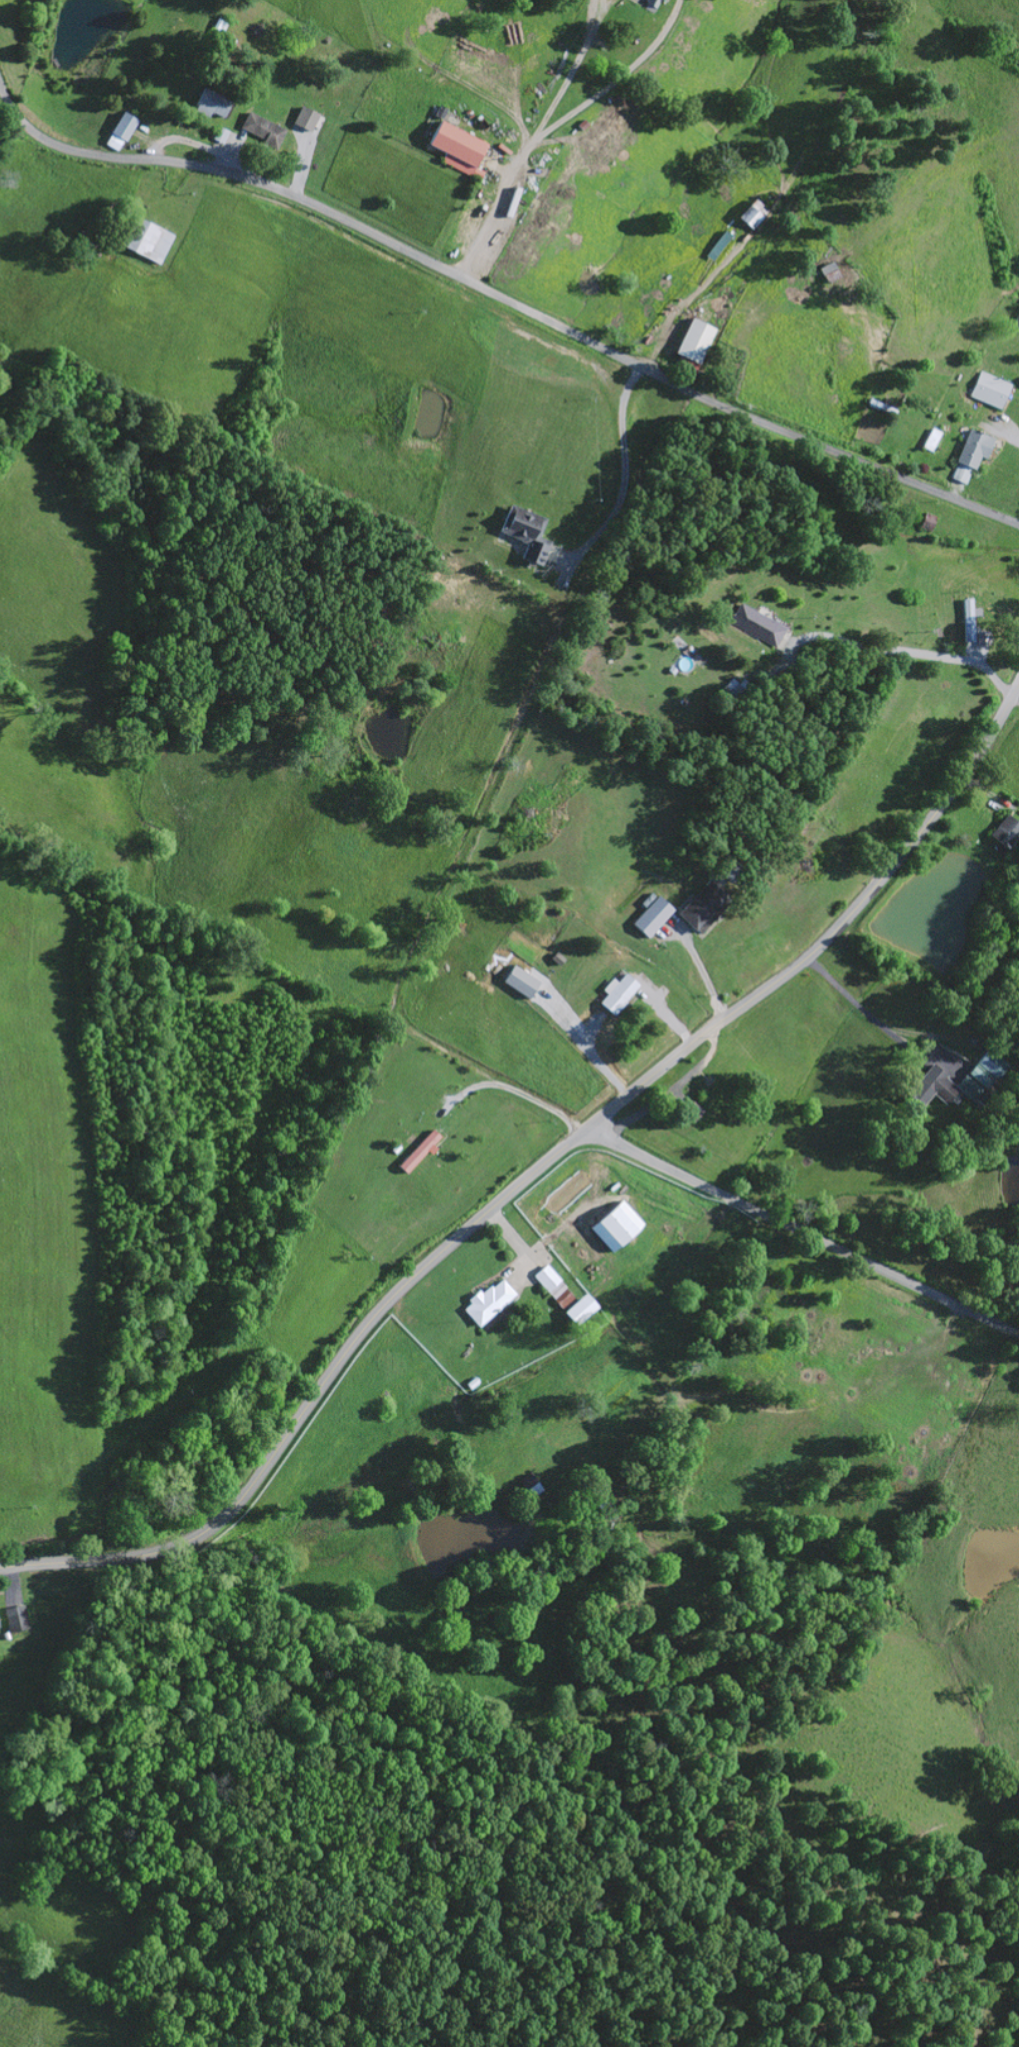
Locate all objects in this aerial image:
building: (651, 2)
building: (209, 101)
building: (304, 116)
building: (262, 127)
building: (119, 129)
building: (218, 132)
building: (455, 141)
road: (165, 190)
building: (752, 212)
building: (137, 234)
building: (719, 241)
road: (723, 270)
building: (828, 273)
road: (505, 297)
building: (1016, 321)
building: (693, 338)
building: (988, 387)
building: (882, 405)
building: (930, 437)
building: (972, 447)
road: (622, 472)
building: (925, 519)
building: (523, 523)
building: (533, 552)
building: (966, 619)
building: (755, 622)
road: (897, 647)
building: (669, 668)
building: (734, 692)
road: (1015, 692)
road: (986, 791)
building: (1004, 830)
building: (660, 905)
building: (699, 905)
building: (555, 956)
building: (520, 980)
building: (617, 993)
building: (979, 1074)
road: (493, 1082)
building: (936, 1083)
building: (918, 1094)
building: (416, 1152)
road: (533, 1172)
building: (612, 1225)
road: (801, 1234)
building: (552, 1287)
building: (485, 1302)
building: (577, 1310)
building: (14, 1617)

